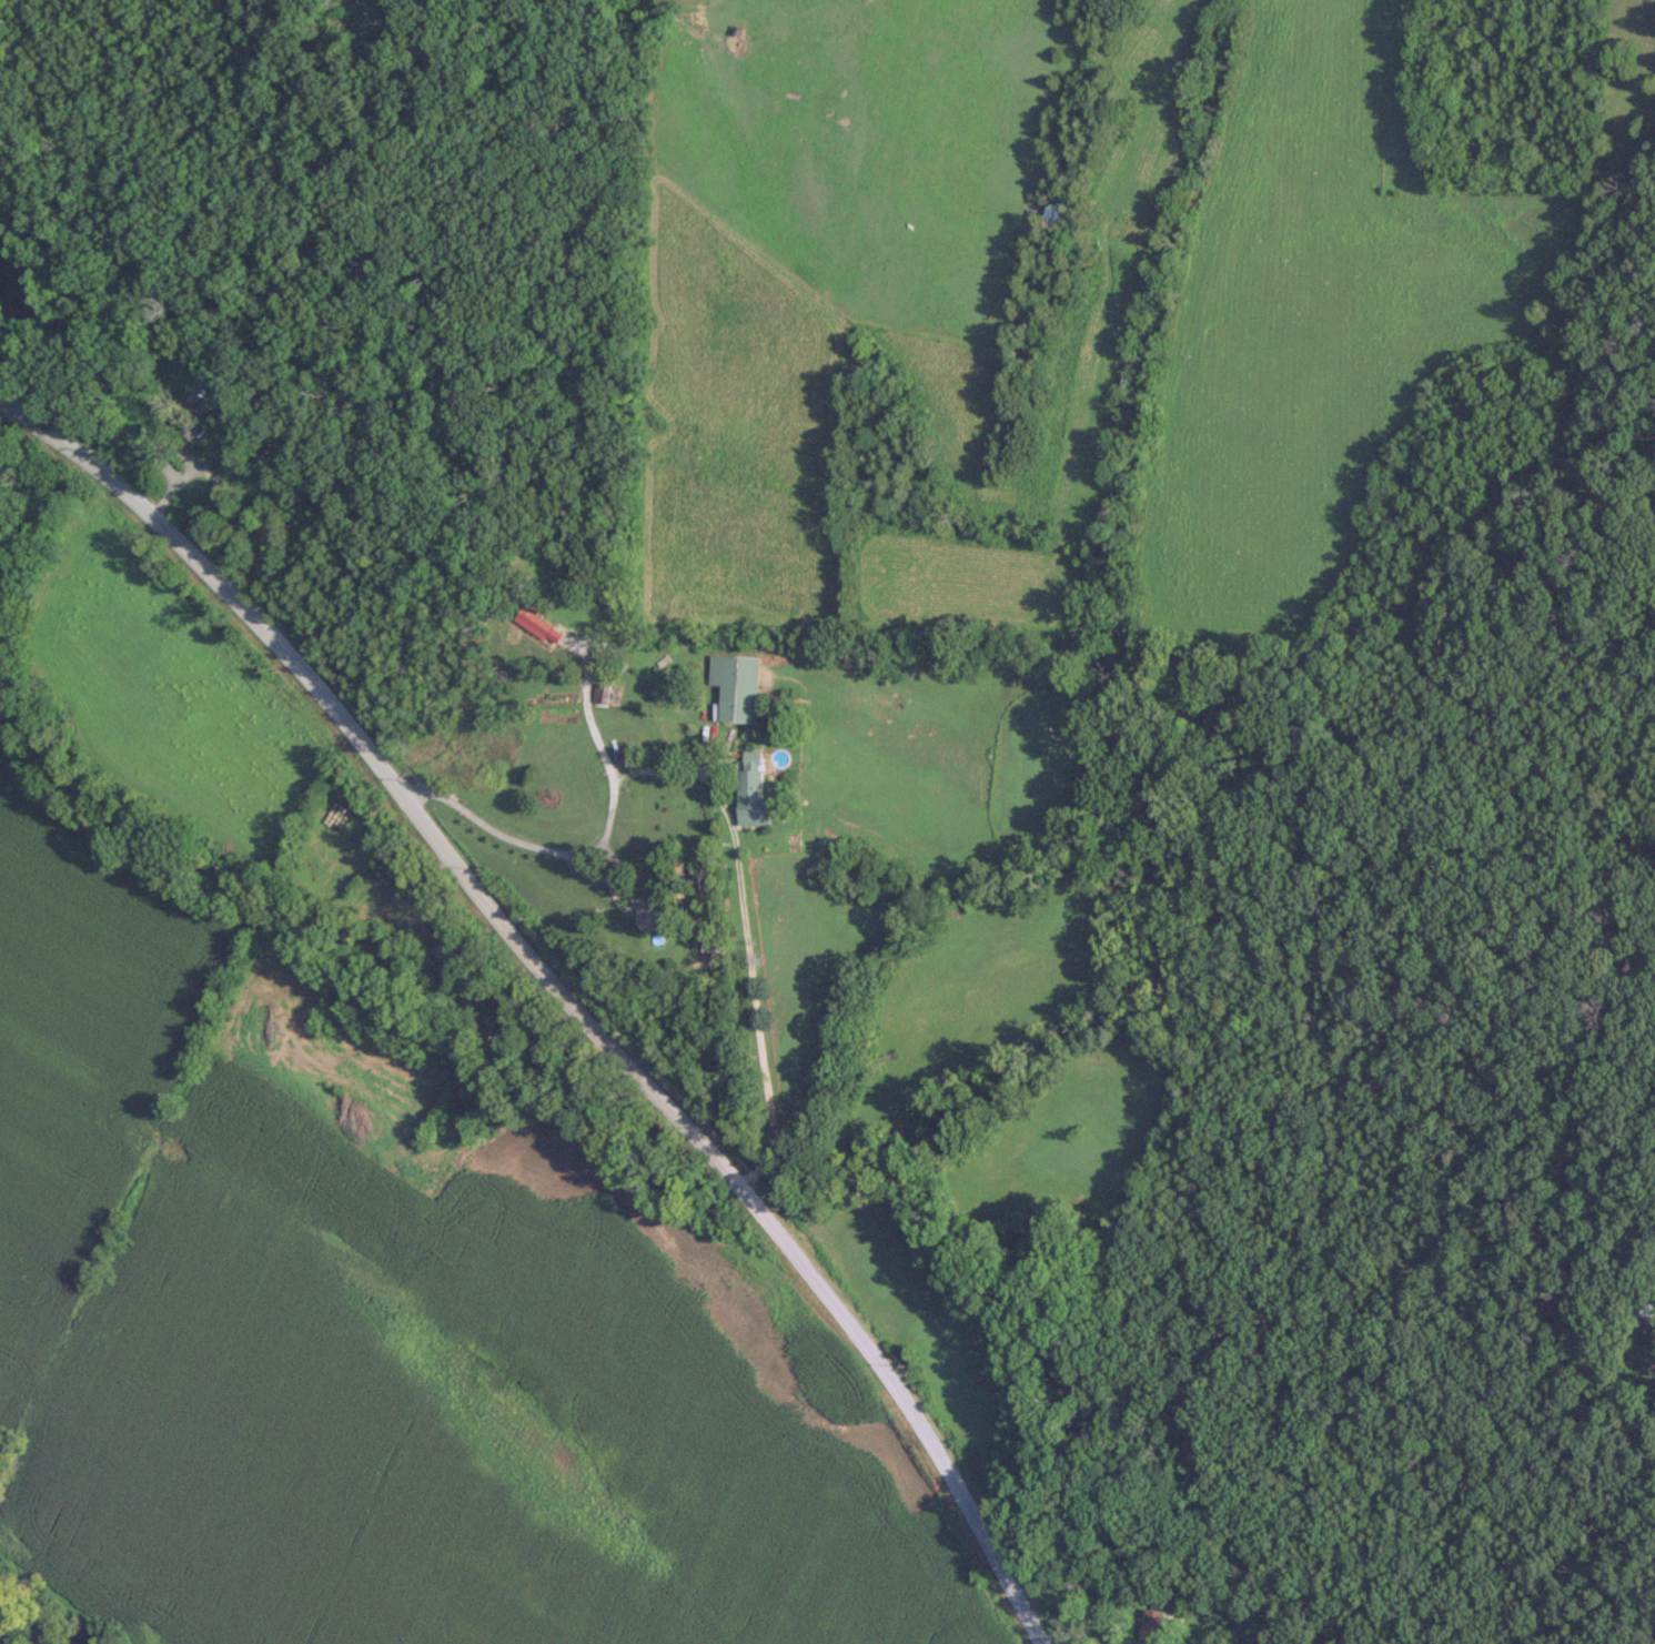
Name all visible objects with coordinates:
building: (1053, 213)
building: (212, 381)
building: (198, 421)
road: (157, 453)
building: (737, 687)
road: (588, 710)
building: (751, 778)
road: (576, 858)
building: (379, 868)
building: (655, 915)
building: (452, 954)
road: (750, 969)
road: (558, 992)
building: (1644, 1305)
building: (1154, 1626)

